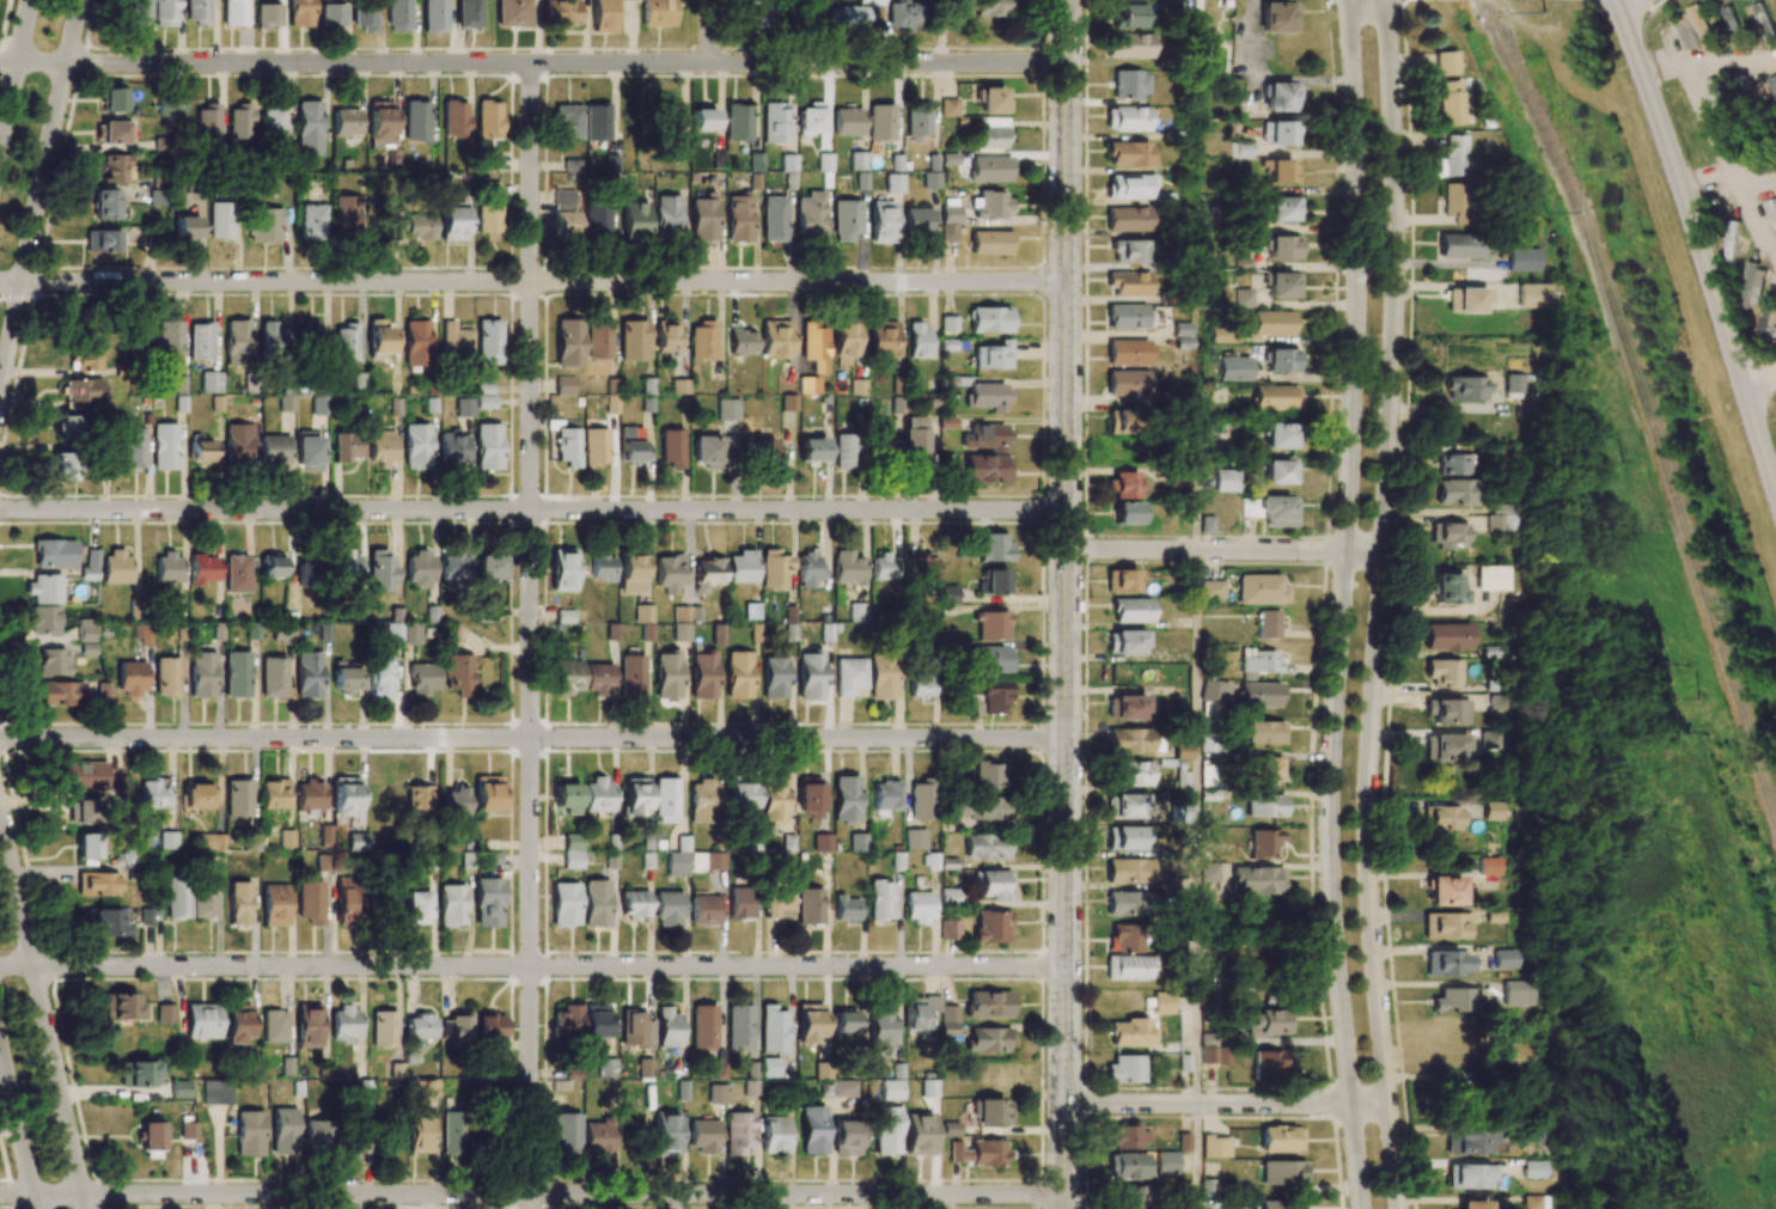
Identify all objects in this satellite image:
building: (633, 0)
building: (879, 1)
building: (989, 8)
building: (136, 12)
building: (197, 12)
building: (165, 13)
building: (234, 13)
building: (300, 13)
building: (469, 13)
building: (512, 13)
building: (559, 13)
building: (657, 13)
building: (757, 13)
power tower: (1543, 13)
building: (1125, 14)
building: (268, 16)
building: (334, 16)
building: (365, 16)
building: (397, 16)
building: (434, 16)
building: (602, 16)
building: (903, 16)
building: (1277, 18)
building: (1765, 24)
building: (1734, 26)
building: (1695, 29)
road: (709, 31)
road: (20, 32)
road: (73, 32)
road: (1067, 32)
building: (1127, 45)
road: (1658, 56)
road: (6, 63)
road: (566, 63)
building: (1446, 63)
road: (39, 65)
building: (1129, 85)
building: (1720, 91)
building: (1772, 92)
road: (1695, 93)
road: (6, 96)
building: (112, 96)
building: (1281, 97)
building: (993, 102)
building: (1450, 103)
building: (171, 105)
building: (948, 108)
building: (453, 118)
building: (1127, 118)
building: (488, 120)
building: (703, 120)
building: (380, 121)
building: (567, 121)
building: (670, 121)
building: (917, 121)
building: (207, 122)
building: (346, 122)
building: (416, 122)
building: (596, 122)
building: (738, 122)
building: (810, 122)
building: (847, 122)
building: (881, 122)
building: (239, 123)
building: (775, 123)
building: (273, 127)
building: (309, 128)
building: (115, 133)
building: (993, 133)
building: (1277, 133)
building: (1241, 149)
building: (1756, 149)
building: (1129, 154)
building: (1453, 157)
building: (393, 159)
building: (487, 161)
building: (859, 161)
building: (788, 163)
building: (116, 169)
building: (989, 169)
building: (1280, 170)
building: (893, 183)
building: (1128, 187)
road: (1708, 187)
building: (157, 197)
building: (563, 200)
building: (1457, 202)
power tower: (1551, 203)
building: (990, 204)
building: (108, 206)
building: (1283, 209)
building: (1772, 210)
building: (344, 214)
building: (666, 214)
road: (32, 216)
building: (810, 216)
building: (489, 219)
building: (703, 219)
building: (739, 219)
building: (774, 219)
building: (1127, 219)
building: (221, 220)
building: (634, 220)
building: (846, 220)
building: (311, 221)
building: (452, 221)
building: (883, 221)
building: (917, 221)
building: (597, 222)
building: (566, 224)
building: (948, 224)
road: (1754, 224)
building: (263, 225)
building: (187, 227)
building: (411, 227)
building: (1731, 240)
building: (103, 242)
building: (990, 243)
road: (1699, 245)
building: (1460, 246)
building: (1283, 248)
building: (1127, 251)
building: (1521, 259)
road: (8, 281)
building: (1751, 281)
road: (541, 282)
building: (1128, 283)
building: (1283, 285)
building: (1530, 295)
building: (1244, 297)
building: (1465, 300)
building: (1766, 316)
building: (1127, 317)
building: (989, 319)
building: (1271, 323)
building: (948, 324)
building: (1179, 329)
building: (310, 334)
building: (598, 336)
building: (666, 336)
building: (379, 337)
building: (775, 338)
building: (883, 338)
building: (270, 340)
building: (844, 340)
building: (633, 341)
building: (702, 341)
building: (917, 341)
building: (170, 342)
building: (201, 342)
building: (454, 342)
building: (487, 342)
building: (741, 342)
building: (237, 343)
building: (346, 343)
building: (415, 343)
building: (568, 343)
building: (947, 344)
building: (813, 347)
building: (1127, 353)
building: (87, 356)
building: (991, 356)
building: (1282, 361)
building: (1234, 367)
road: (1759, 379)
building: (210, 381)
building: (1127, 383)
building: (1510, 384)
building: (564, 385)
building: (808, 385)
building: (679, 386)
building: (858, 387)
building: (1464, 389)
building: (787, 390)
building: (83, 393)
building: (484, 396)
building: (987, 396)
building: (1275, 397)
railway: (1646, 404)
building: (321, 405)
building: (464, 408)
building: (727, 409)
building: (1118, 421)
building: (68, 427)
building: (1277, 436)
building: (916, 440)
building: (240, 442)
building: (633, 445)
building: (165, 446)
building: (416, 446)
building: (596, 446)
building: (133, 447)
building: (346, 447)
building: (382, 447)
building: (487, 447)
building: (452, 448)
building: (567, 448)
building: (672, 448)
building: (765, 448)
building: (812, 450)
building: (880, 450)
building: (201, 451)
building: (274, 451)
building: (707, 451)
building: (996, 451)
building: (1125, 451)
building: (309, 452)
building: (846, 452)
power tower: (1625, 458)
building: (1450, 465)
building: (61, 468)
building: (1280, 472)
road: (1196, 477)
building: (1225, 481)
building: (1122, 486)
building: (1455, 493)
road: (533, 509)
building: (1269, 509)
building: (1129, 513)
building: (1500, 518)
street lamp: (941, 519)
building: (1183, 525)
street lamp: (1084, 530)
street lamp: (1202, 532)
building: (1448, 536)
building: (993, 548)
road: (1225, 550)
building: (54, 554)
street lamp: (1298, 561)
building: (90, 566)
building: (271, 566)
building: (346, 566)
building: (116, 567)
building: (489, 567)
building: (741, 567)
building: (883, 567)
building: (167, 568)
building: (453, 568)
building: (602, 568)
building: (847, 568)
building: (921, 568)
building: (203, 569)
building: (774, 569)
building: (808, 569)
building: (419, 570)
building: (562, 570)
building: (310, 572)
building: (380, 572)
building: (237, 573)
building: (630, 573)
building: (669, 573)
building: (707, 574)
building: (1490, 578)
building: (1121, 581)
building: (993, 582)
building: (44, 588)
building: (1210, 588)
building: (1448, 588)
building: (1258, 590)
building: (947, 594)
road: (1341, 604)
road: (1378, 604)
building: (855, 609)
building: (135, 610)
building: (1131, 610)
building: (751, 611)
building: (643, 613)
building: (686, 613)
building: (564, 617)
building: (43, 621)
building: (789, 623)
building: (1267, 624)
building: (990, 625)
building: (86, 630)
building: (251, 631)
building: (681, 631)
building: (141, 633)
building: (402, 633)
building: (282, 634)
building: (718, 634)
road: (530, 636)
road: (1066, 636)
building: (1446, 636)
building: (1124, 642)
street lamp: (1357, 649)
building: (1258, 660)
building: (53, 661)
building: (988, 661)
street lamp: (1082, 664)
building: (1444, 673)
building: (201, 674)
building: (236, 674)
building: (307, 674)
building: (457, 674)
building: (631, 674)
building: (667, 674)
building: (703, 674)
building: (738, 674)
building: (810, 674)
building: (848, 676)
building: (166, 677)
building: (273, 677)
building: (378, 677)
building: (774, 677)
building: (881, 677)
building: (130, 678)
building: (343, 678)
building: (422, 678)
building: (566, 678)
building: (597, 678)
building: (918, 685)
building: (103, 690)
building: (1213, 691)
building: (61, 694)
building: (1259, 695)
building: (993, 698)
power tower: (1695, 701)
building: (1496, 703)
building: (1124, 708)
building: (1448, 712)
building: (1261, 733)
road: (532, 738)
building: (1489, 740)
building: (1209, 743)
street lamp: (935, 747)
building: (1444, 747)
building: (1182, 751)
building: (1264, 769)
building: (1131, 774)
building: (85, 776)
building: (987, 776)
building: (1182, 780)
building: (118, 786)
street lamp: (1348, 788)
building: (153, 794)
building: (274, 794)
building: (487, 794)
building: (310, 795)
building: (343, 795)
building: (597, 795)
building: (740, 795)
building: (885, 795)
building: (195, 796)
building: (635, 796)
building: (810, 796)
building: (238, 798)
building: (417, 798)
building: (566, 798)
building: (774, 799)
building: (846, 799)
building: (922, 799)
building: (666, 800)
building: (703, 801)
building: (456, 802)
building: (1124, 806)
building: (1264, 806)
building: (979, 808)
building: (1491, 811)
building: (79, 812)
building: (1180, 812)
building: (1440, 818)
road: (1196, 826)
street lamp: (1082, 828)
building: (324, 836)
building: (287, 838)
building: (915, 838)
building: (1124, 838)
building: (167, 839)
building: (212, 842)
building: (356, 842)
building: (823, 842)
building: (858, 842)
building: (1263, 843)
building: (87, 847)
building: (984, 847)
building: (573, 851)
building: (130, 856)
building: (492, 857)
building: (707, 861)
building: (677, 863)
building: (1488, 866)
building: (1129, 871)
building: (1209, 872)
building: (1257, 880)
building: (97, 884)
building: (993, 885)
building: (1445, 891)
building: (178, 898)
building: (205, 899)
building: (880, 899)
building: (311, 902)
building: (348, 902)
building: (488, 902)
building: (239, 903)
building: (389, 903)
building: (596, 903)
building: (739, 903)
building: (779, 903)
building: (564, 904)
building: (1127, 904)
building: (274, 905)
building: (451, 905)
building: (635, 905)
building: (808, 906)
building: (917, 906)
building: (416, 908)
street lamp: (1349, 908)
building: (667, 909)
building: (847, 909)
building: (704, 910)
building: (108, 922)
building: (1446, 926)
building: (990, 927)
building: (950, 929)
building: (1124, 939)
power tower: (1769, 940)
street lamp: (123, 955)
street lamp: (1081, 958)
building: (1501, 959)
building: (1446, 964)
road: (17, 966)
road: (549, 966)
building: (1128, 967)
street lamp: (971, 975)
building: (1509, 993)
street lamp: (1, 994)
building: (1454, 1000)
building: (1162, 1002)
building: (988, 1005)
building: (121, 1007)
building: (165, 1013)
road: (43, 1016)
building: (202, 1021)
building: (566, 1021)
building: (914, 1021)
building: (594, 1022)
building: (808, 1022)
building: (844, 1022)
building: (1268, 1022)
building: (237, 1024)
building: (346, 1024)
building: (274, 1026)
building: (307, 1026)
building: (419, 1027)
building: (667, 1027)
building: (703, 1027)
building: (739, 1027)
building: (880, 1027)
building: (383, 1028)
building: (636, 1028)
building: (773, 1030)
building: (459, 1031)
building: (489, 1031)
building: (1129, 1032)
building: (988, 1040)
building: (1454, 1042)
building: (1215, 1055)
building: (645, 1064)
building: (1267, 1064)
street lamp: (1363, 1065)
building: (286, 1067)
building: (769, 1067)
building: (606, 1068)
building: (1124, 1069)
building: (719, 1070)
building: (897, 1070)
building: (138, 1074)
building: (1459, 1085)
street lamp: (1044, 1086)
building: (427, 1087)
building: (843, 1088)
building: (929, 1088)
building: (179, 1089)
building: (891, 1089)
building: (215, 1093)
building: (715, 1094)
road: (1226, 1104)
building: (990, 1111)
street lamp: (1280, 1117)
street lamp: (54, 1123)
street lamp: (29, 1124)
building: (951, 1128)
road: (17, 1130)
building: (813, 1130)
building: (886, 1130)
building: (283, 1131)
building: (452, 1132)
building: (665, 1132)
building: (738, 1132)
building: (249, 1134)
building: (566, 1134)
building: (315, 1135)
building: (417, 1135)
building: (775, 1135)
building: (918, 1135)
building: (151, 1136)
building: (703, 1136)
building: (1127, 1136)
building: (597, 1137)
building: (847, 1138)
building: (1280, 1138)
building: (1470, 1141)
building: (354, 1143)
building: (1215, 1147)
building: (979, 1153)
road: (1196, 1156)
building: (1165, 1162)
building: (1125, 1166)
building: (1532, 1170)
building: (1282, 1173)
building: (1470, 1177)
road: (573, 1193)
road: (39, 1195)
building: (1129, 1197)
street lamp: (1377, 1202)
building: (1533, 1202)
street lamp: (977, 1203)
building: (1228, 1204)
building: (1278, 1204)
building: (1469, 1204)

